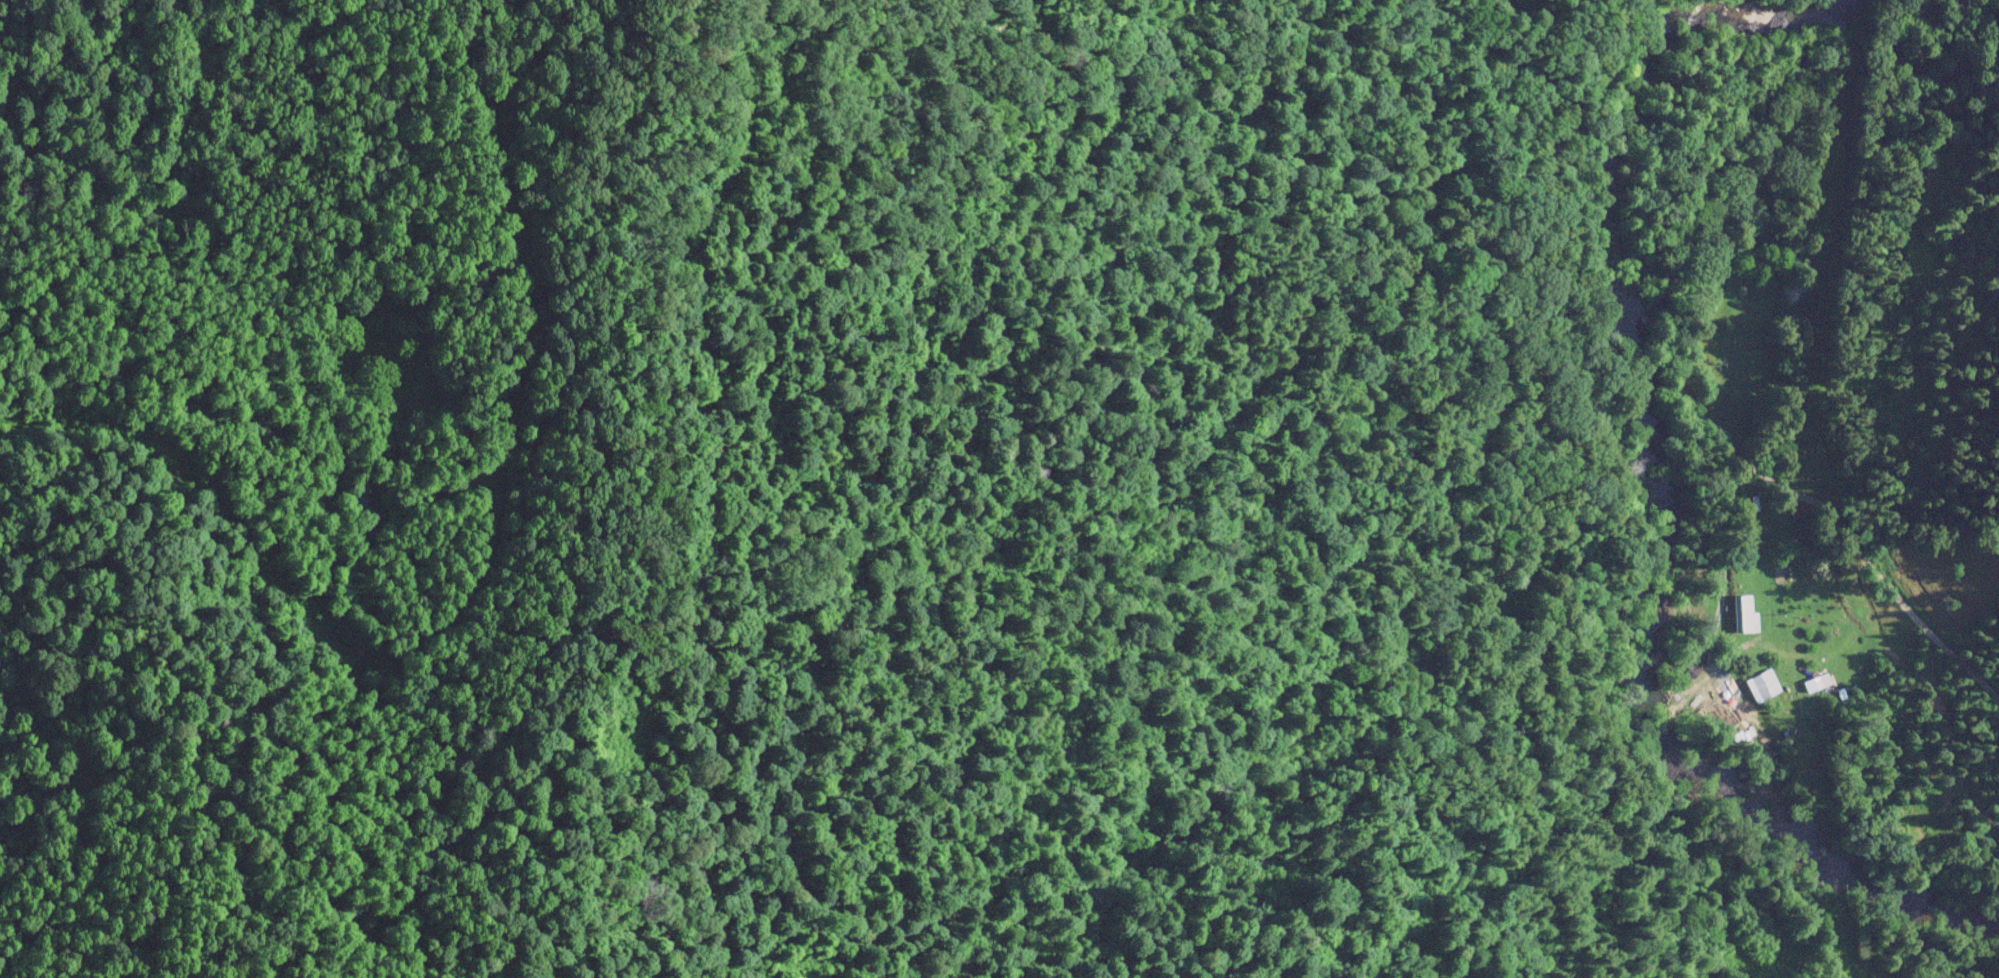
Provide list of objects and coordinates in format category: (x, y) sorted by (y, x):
building: (1738, 611)
building: (1765, 682)

